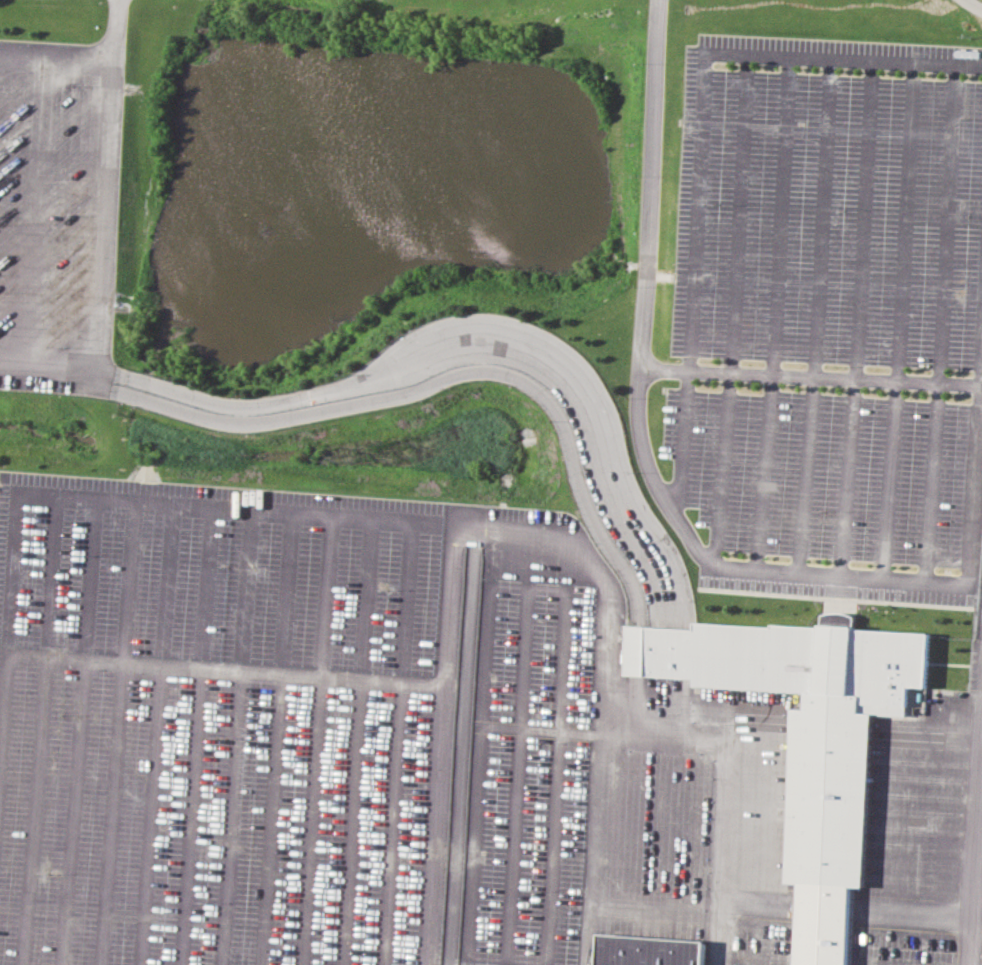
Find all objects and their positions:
road: (972, 6)
road: (700, 149)
road: (109, 206)
road: (648, 263)
road: (518, 356)
road: (810, 376)
road: (431, 528)
road: (941, 584)
parking lot: (529, 588)
road: (227, 670)
building: (810, 744)
road: (442, 747)
road: (975, 865)
building: (643, 947)

